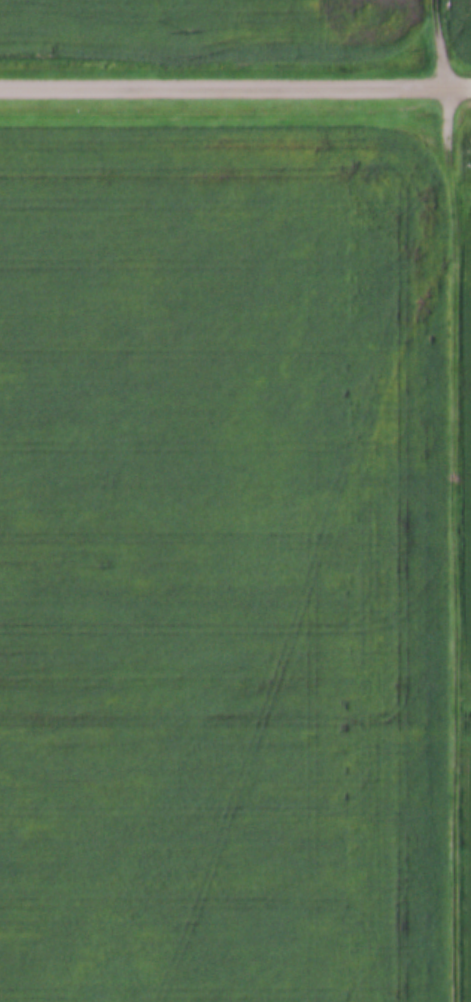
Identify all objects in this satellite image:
road: (222, 85)
road: (457, 86)
road: (452, 500)

